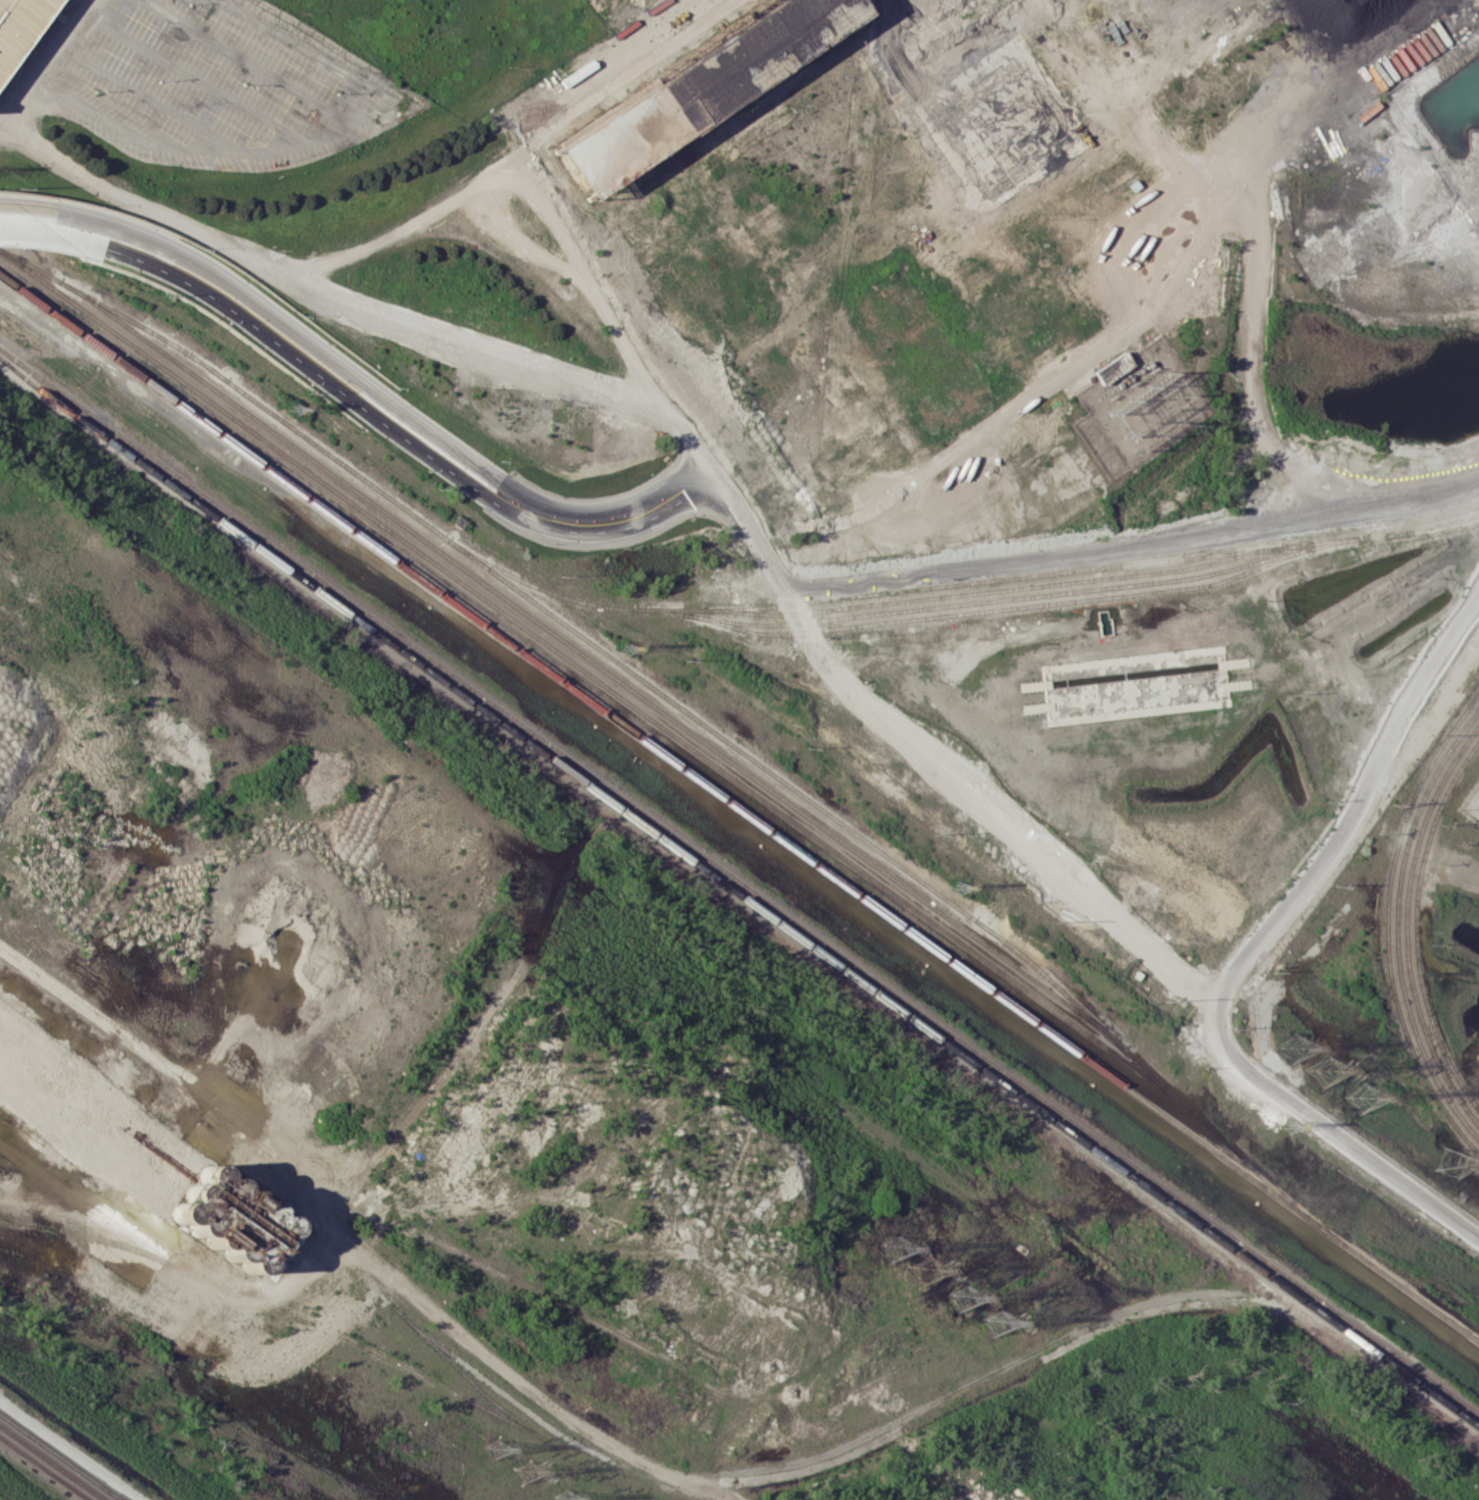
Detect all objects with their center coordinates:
building: (18, 25)
parking garage: (18, 25)
road: (47, 62)
building: (692, 86)
road: (516, 179)
road: (26, 208)
road: (50, 234)
road: (516, 242)
road: (358, 304)
road: (1131, 334)
road: (303, 336)
road: (317, 374)
railway: (232, 382)
road: (622, 518)
railway: (958, 583)
railway: (992, 590)
railway: (970, 602)
railway: (1023, 606)
railway: (594, 662)
railway: (598, 681)
power substation: (1470, 800)
railway: (739, 807)
railway: (901, 865)
railway: (739, 881)
railway: (738, 894)
railway: (1388, 921)
road: (1249, 951)
power tower: (1291, 1048)
power tower: (1323, 1070)
power tower: (1361, 1098)
power tower: (1450, 1160)
power tower: (895, 1247)
power tower: (927, 1270)
power tower: (964, 1298)
power tower: (997, 1322)
power tower: (494, 1449)
railway: (60, 1457)
railway: (53, 1462)
railway: (44, 1468)
power tower: (525, 1471)
power tower: (565, 1499)

